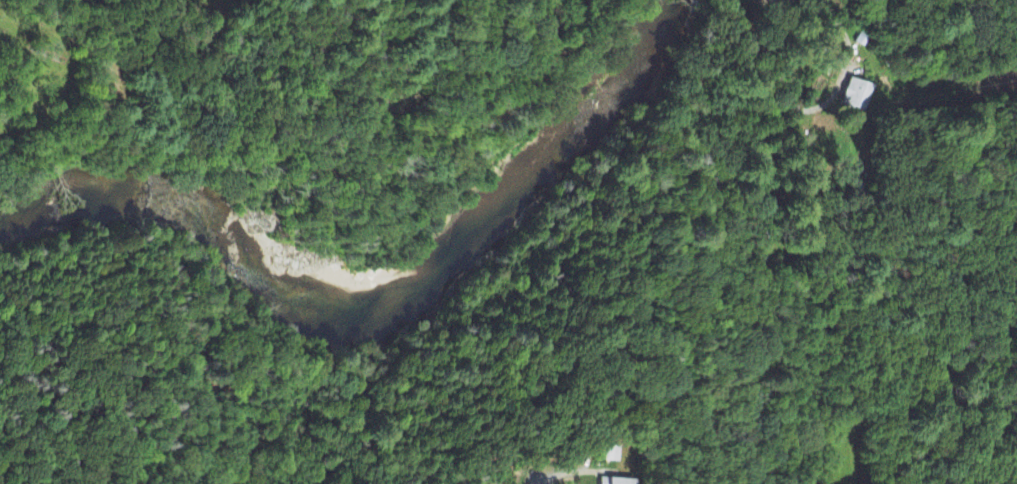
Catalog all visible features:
building: (766, 1)
road: (994, 5)
building: (855, 95)
road: (812, 110)
river: (381, 273)
building: (609, 454)
building: (613, 481)

